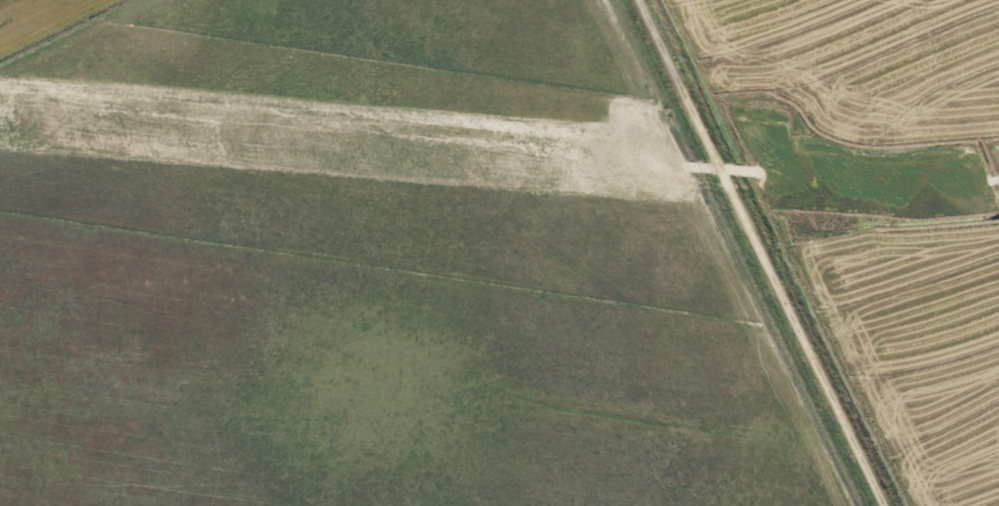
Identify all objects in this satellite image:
road: (765, 253)

